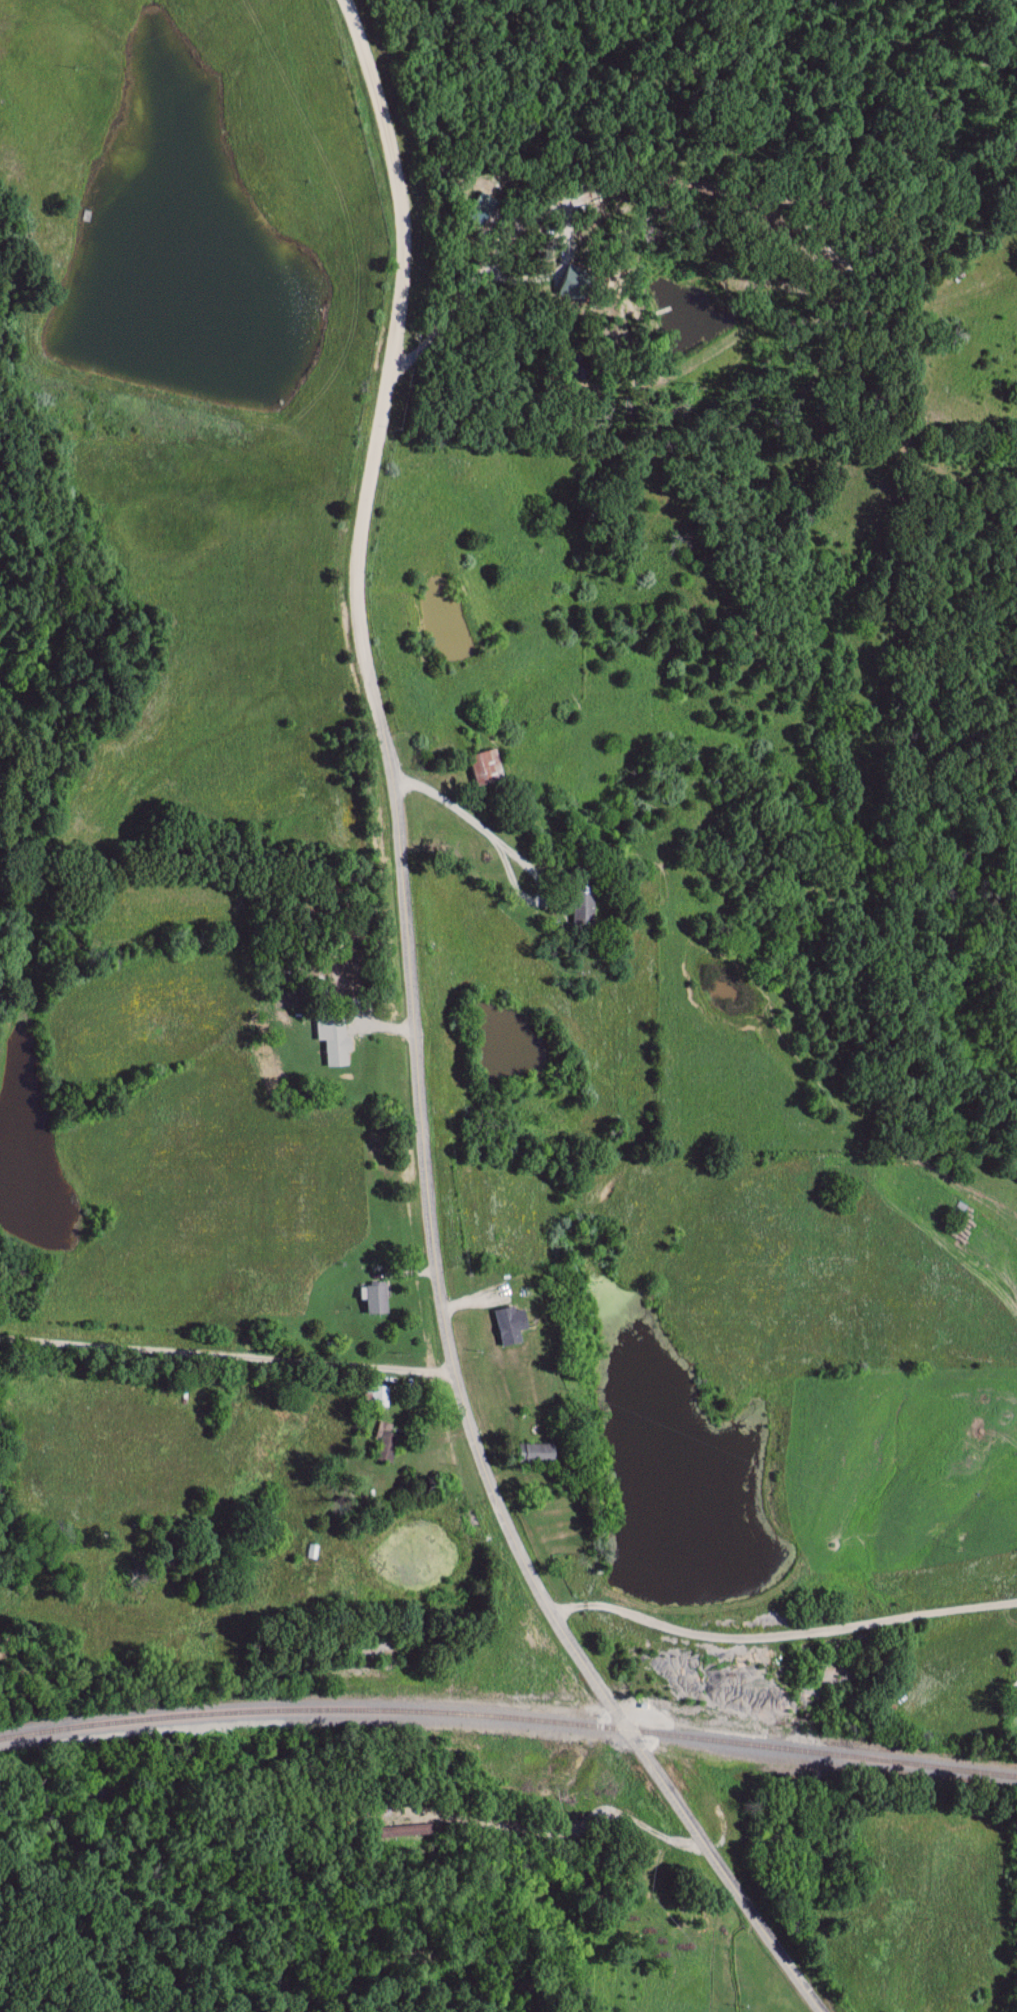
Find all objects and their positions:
road: (397, 170)
building: (490, 768)
building: (586, 906)
building: (338, 1044)
road: (431, 1227)
building: (378, 1300)
road: (467, 1300)
building: (507, 1329)
road: (499, 1350)
road: (228, 1359)
building: (379, 1396)
building: (389, 1436)
building: (540, 1454)
road: (782, 1639)
railway: (509, 1719)

